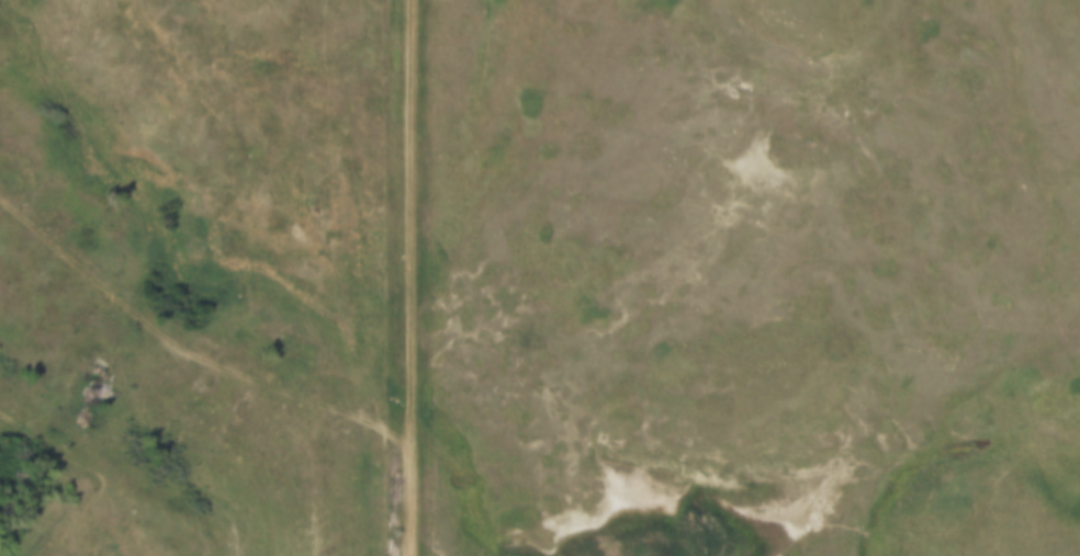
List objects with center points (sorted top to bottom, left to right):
road: (413, 277)
road: (190, 354)

